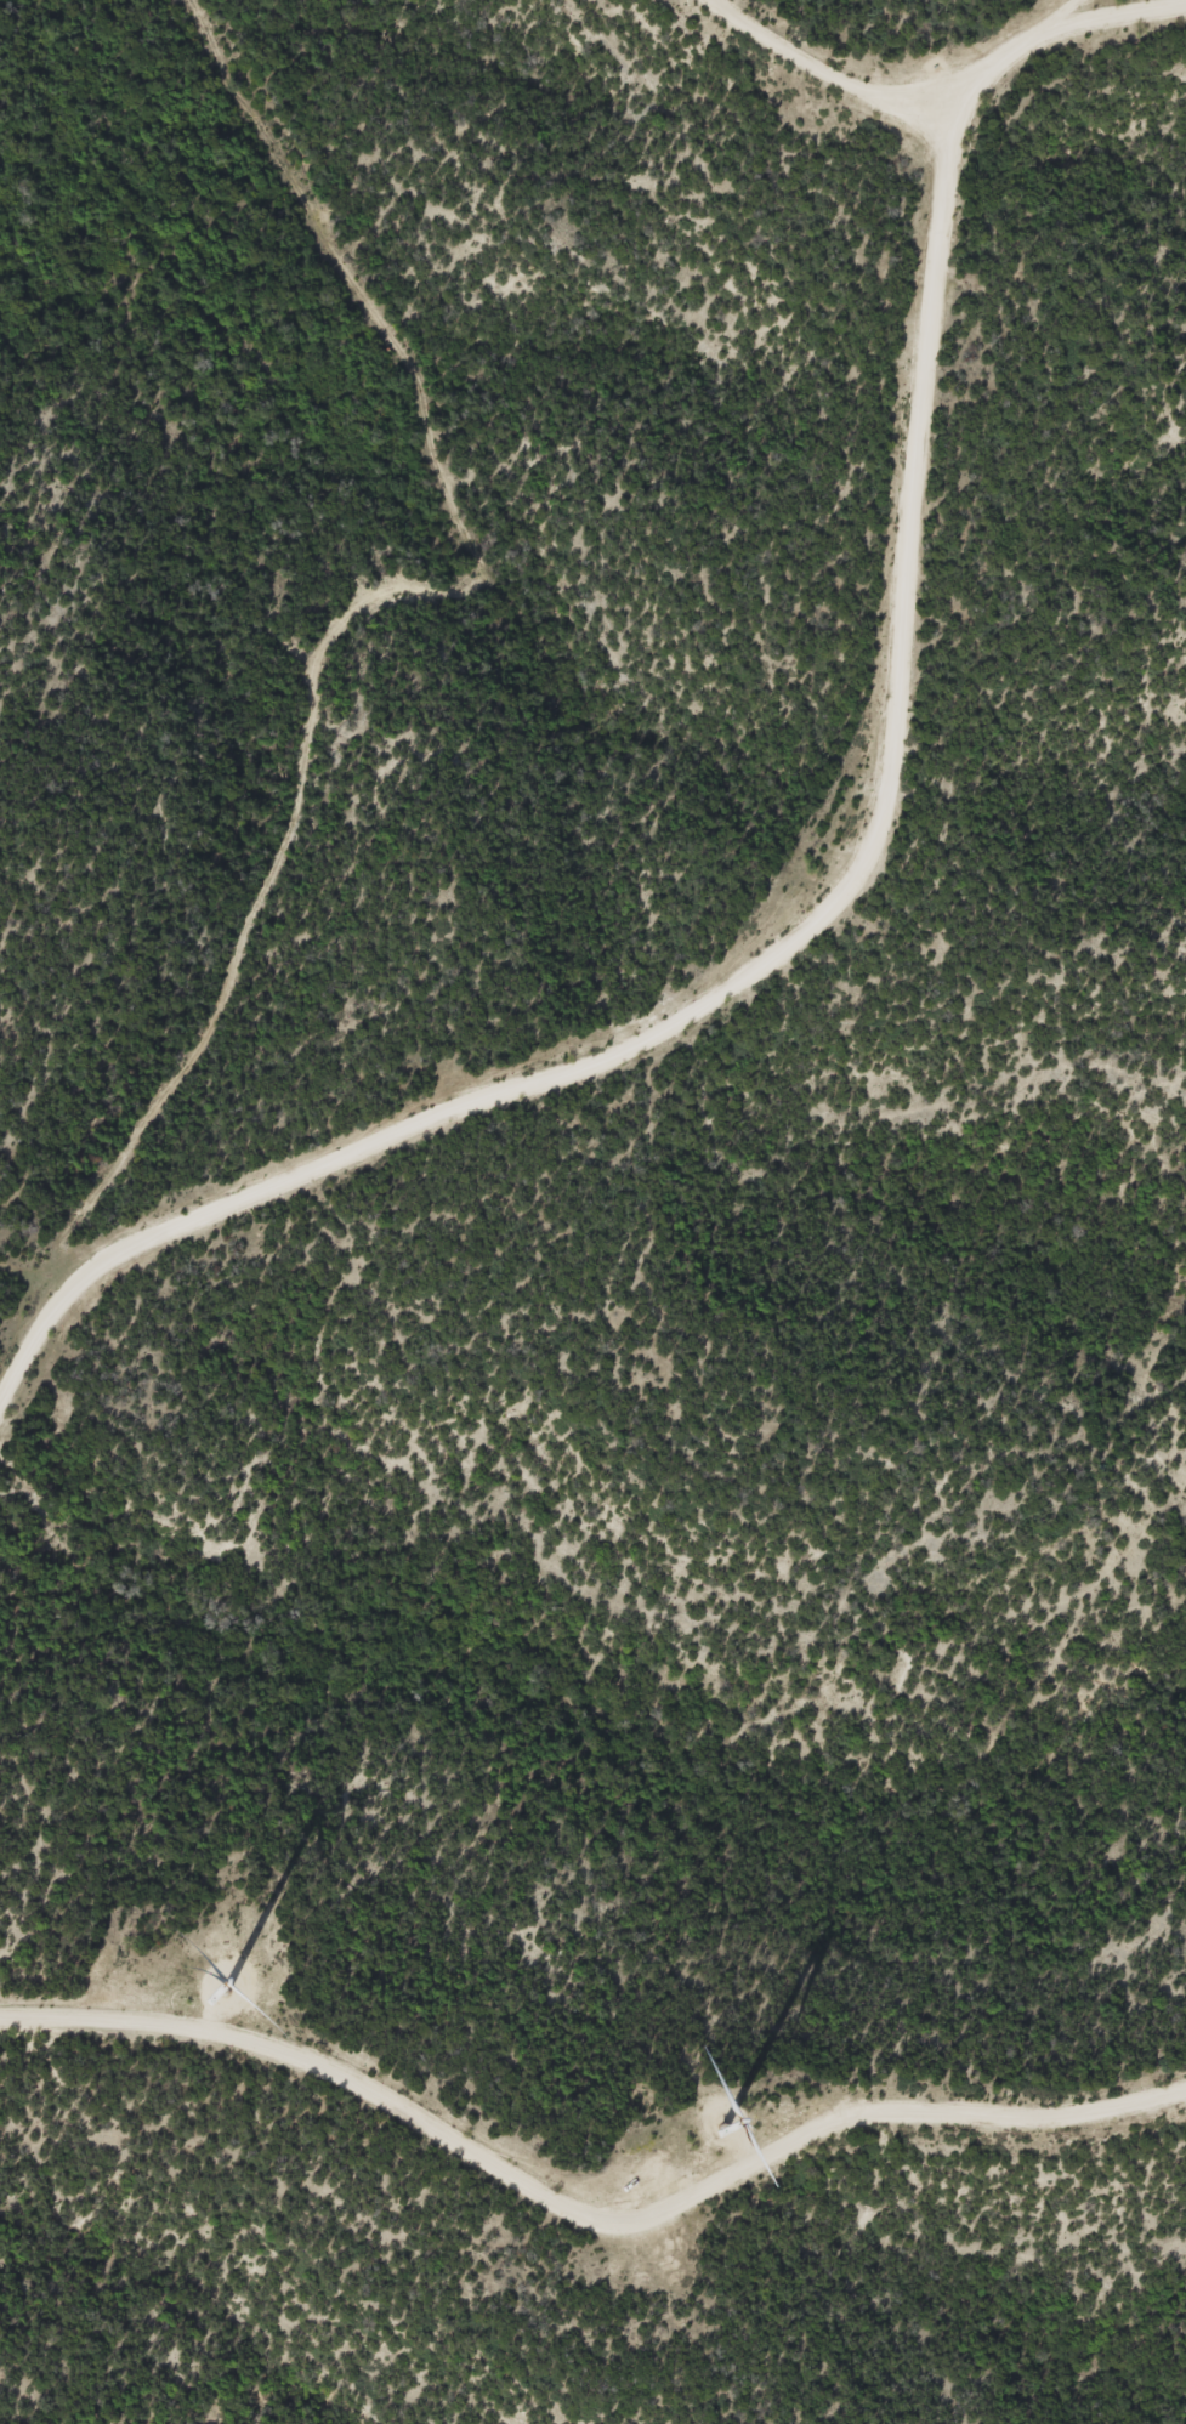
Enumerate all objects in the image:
road: (855, 885)
wind turbine: (210, 1974)
wind turbine: (698, 2111)
road: (590, 2223)

